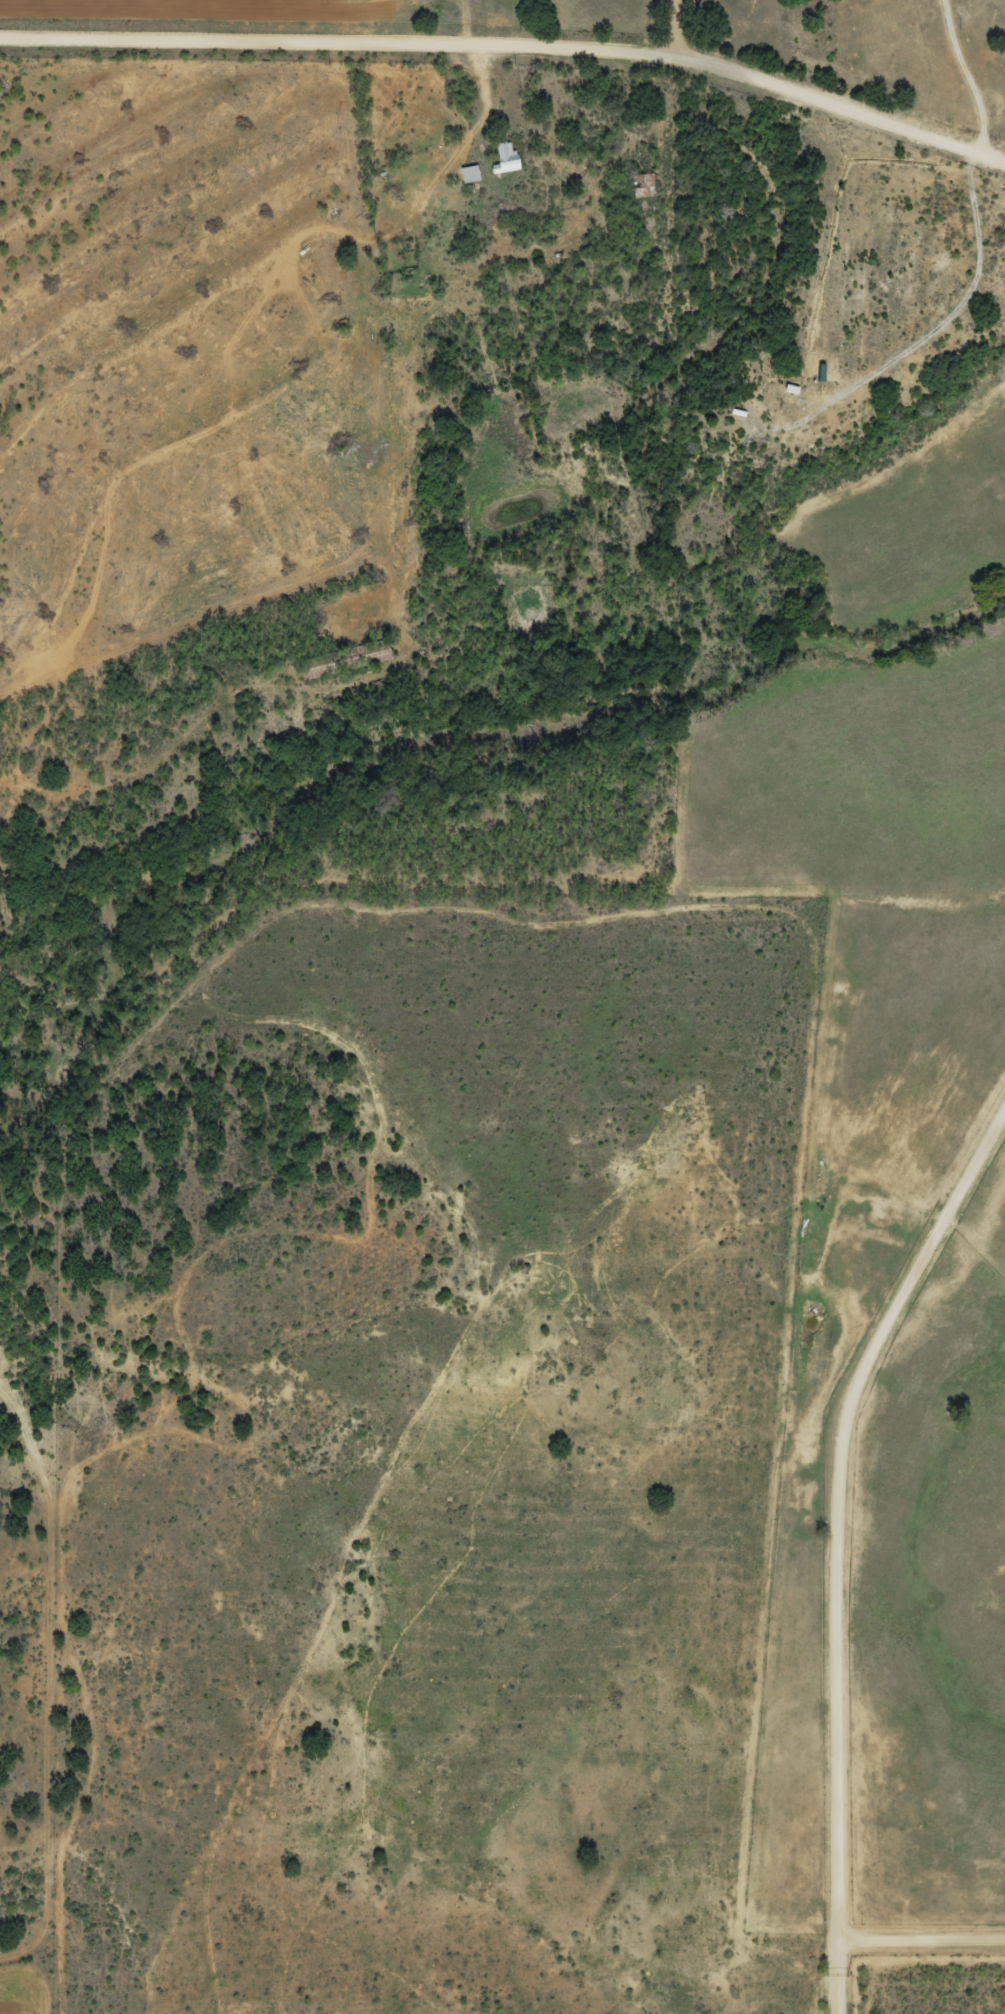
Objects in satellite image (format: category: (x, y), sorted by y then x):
road: (675, 24)
road: (511, 41)
road: (969, 73)
building: (502, 150)
building: (467, 166)
building: (468, 175)
road: (926, 328)
building: (788, 380)
building: (737, 406)
road: (867, 1573)
road: (938, 1938)

